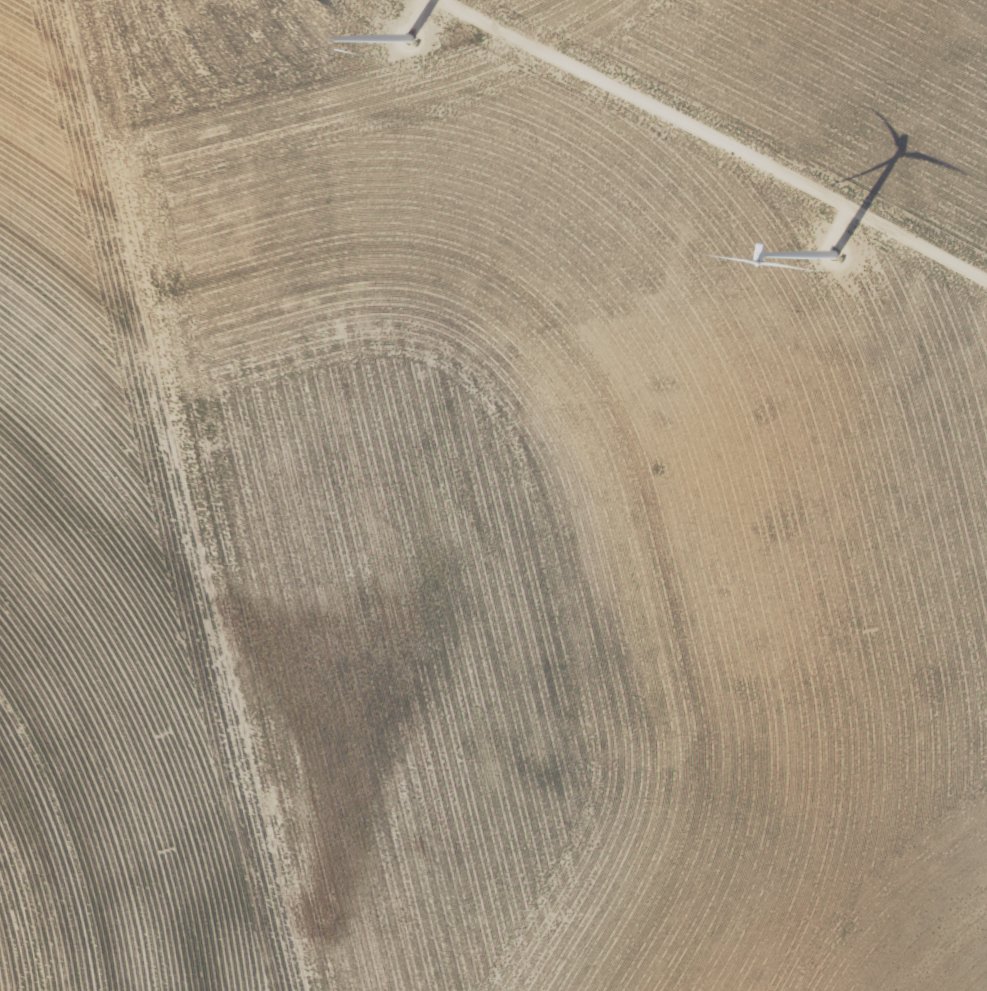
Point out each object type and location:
wind turbine: (420, 24)
wind turbine: (844, 258)

